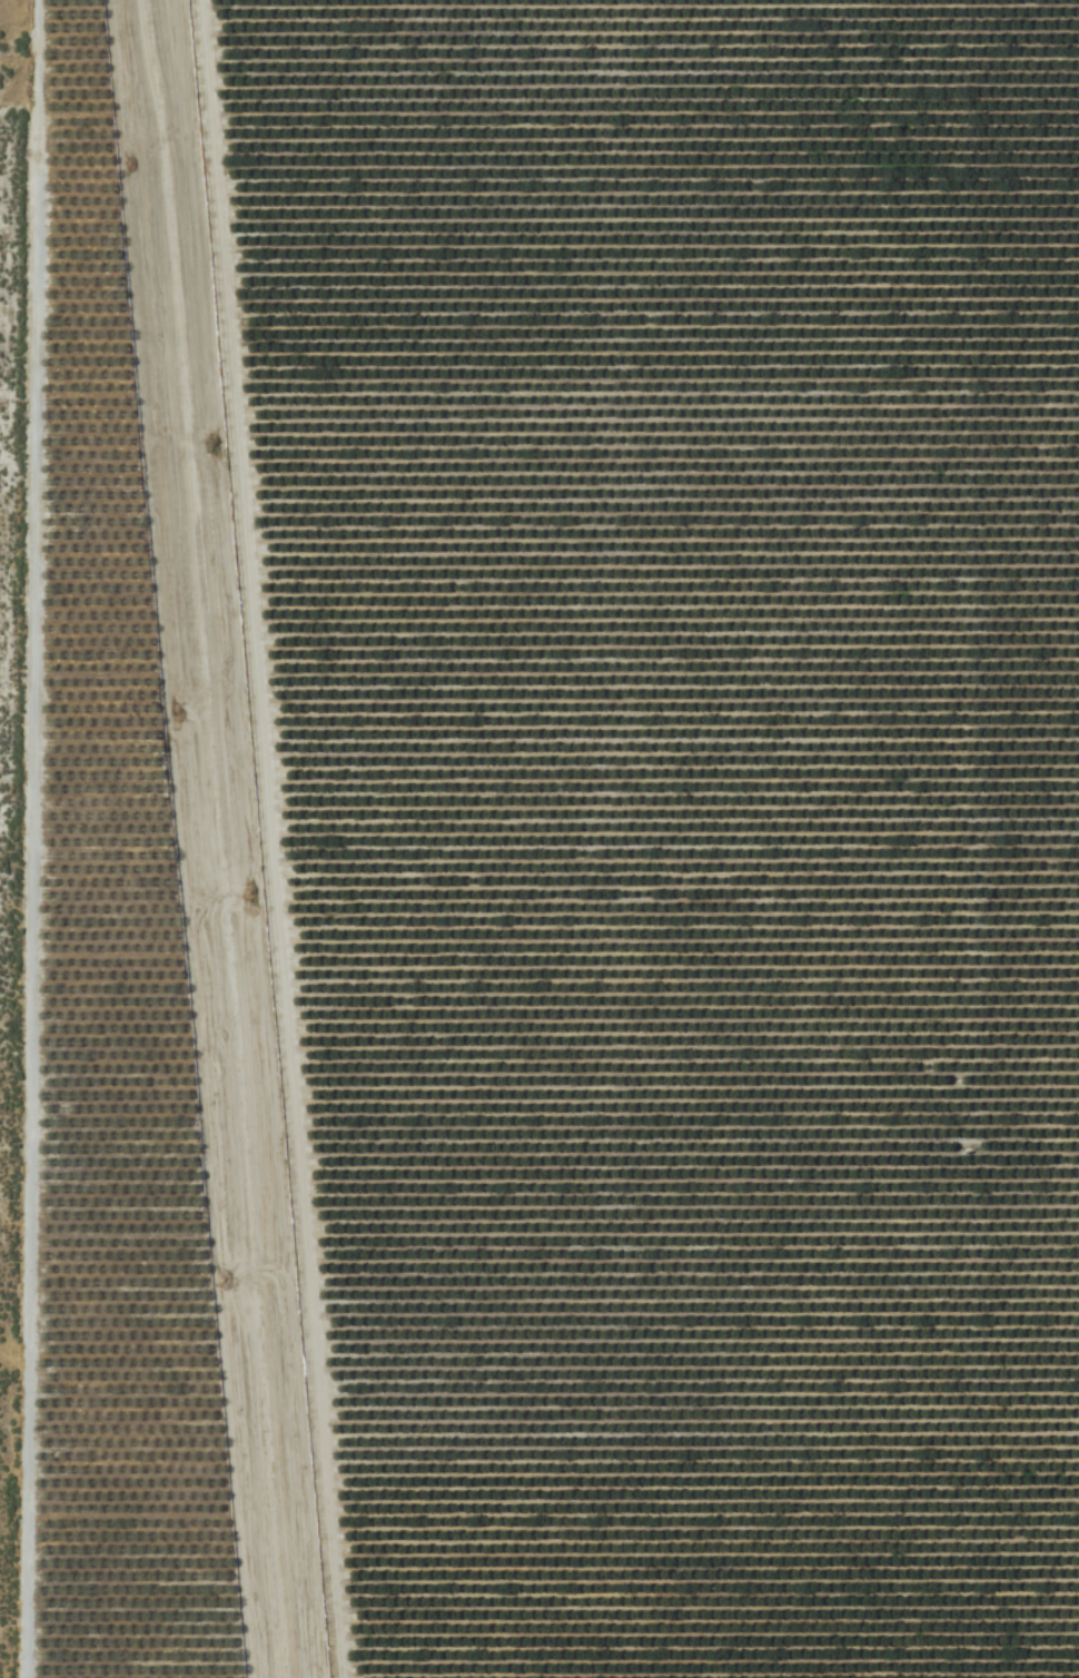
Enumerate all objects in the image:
railway: (211, 838)
railway: (222, 838)
crop: (541, 839)

